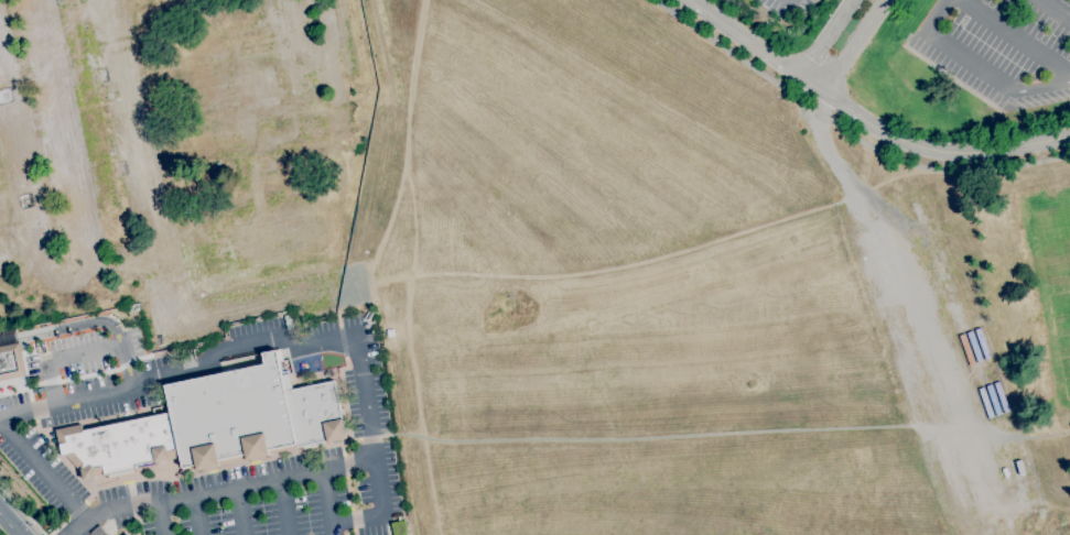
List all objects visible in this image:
parking lot: (787, 6)
road: (1053, 10)
road: (823, 36)
road: (1013, 37)
road: (853, 45)
parking lot: (1003, 50)
road: (950, 52)
building: (207, 75)
road: (1041, 87)
road: (864, 119)
road: (846, 131)
building: (344, 132)
road: (837, 166)
building: (256, 229)
road: (155, 241)
road: (89, 261)
road: (123, 262)
road: (590, 270)
park: (1049, 277)
road: (885, 326)
road: (66, 327)
road: (341, 328)
flagpole: (12, 350)
road: (84, 352)
building: (11, 361)
road: (180, 369)
road: (364, 400)
building: (213, 423)
road: (381, 436)
road: (732, 436)
road: (42, 470)
road: (216, 488)
parking lot: (282, 491)
road: (326, 501)
road: (282, 505)
road: (21, 510)
road: (239, 510)
road: (378, 512)
road: (194, 514)
road: (160, 516)
road: (10, 522)
building: (127, 534)

